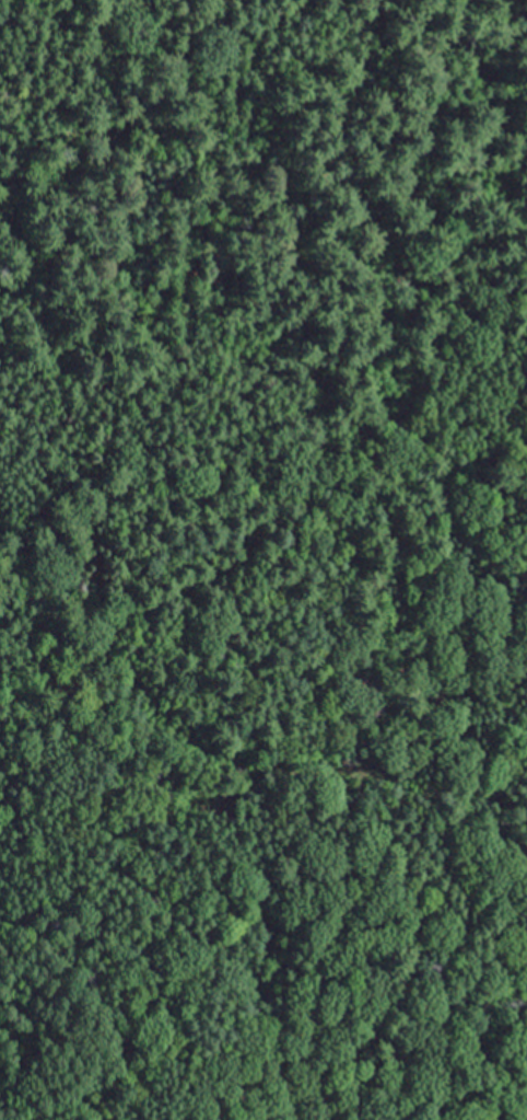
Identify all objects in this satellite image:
road: (274, 765)

